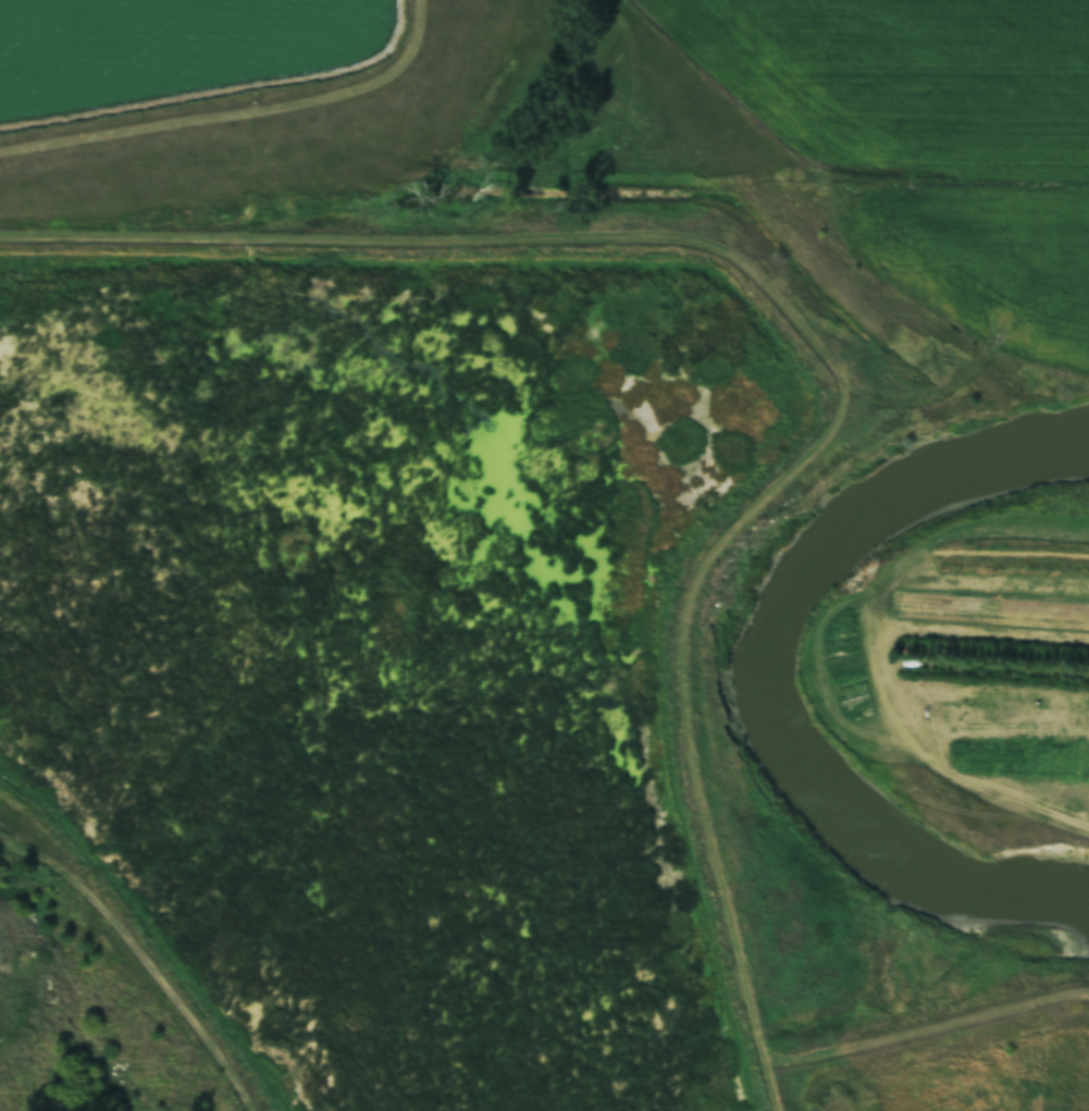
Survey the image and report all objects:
river: (767, 690)
road: (146, 958)

